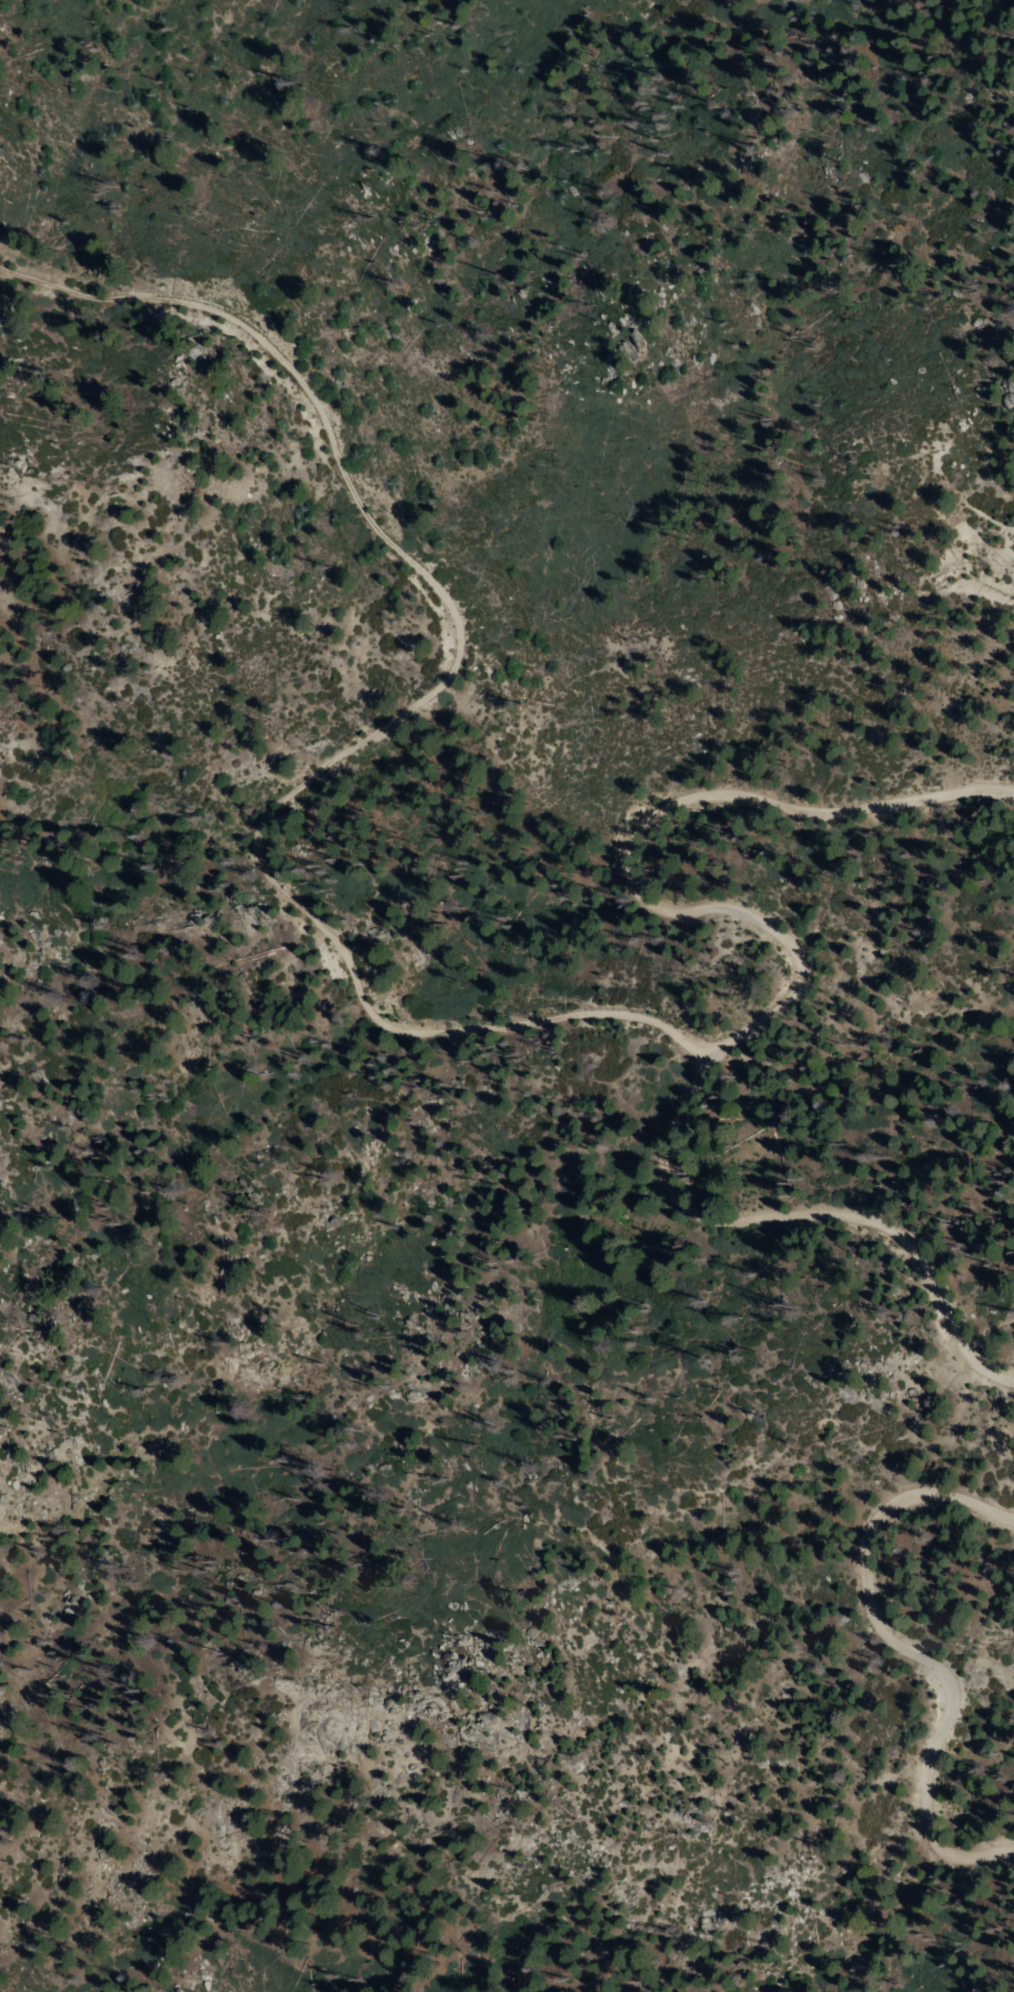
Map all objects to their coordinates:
quarry: (978, 555)
road: (387, 715)
road: (792, 996)
road: (910, 1648)

